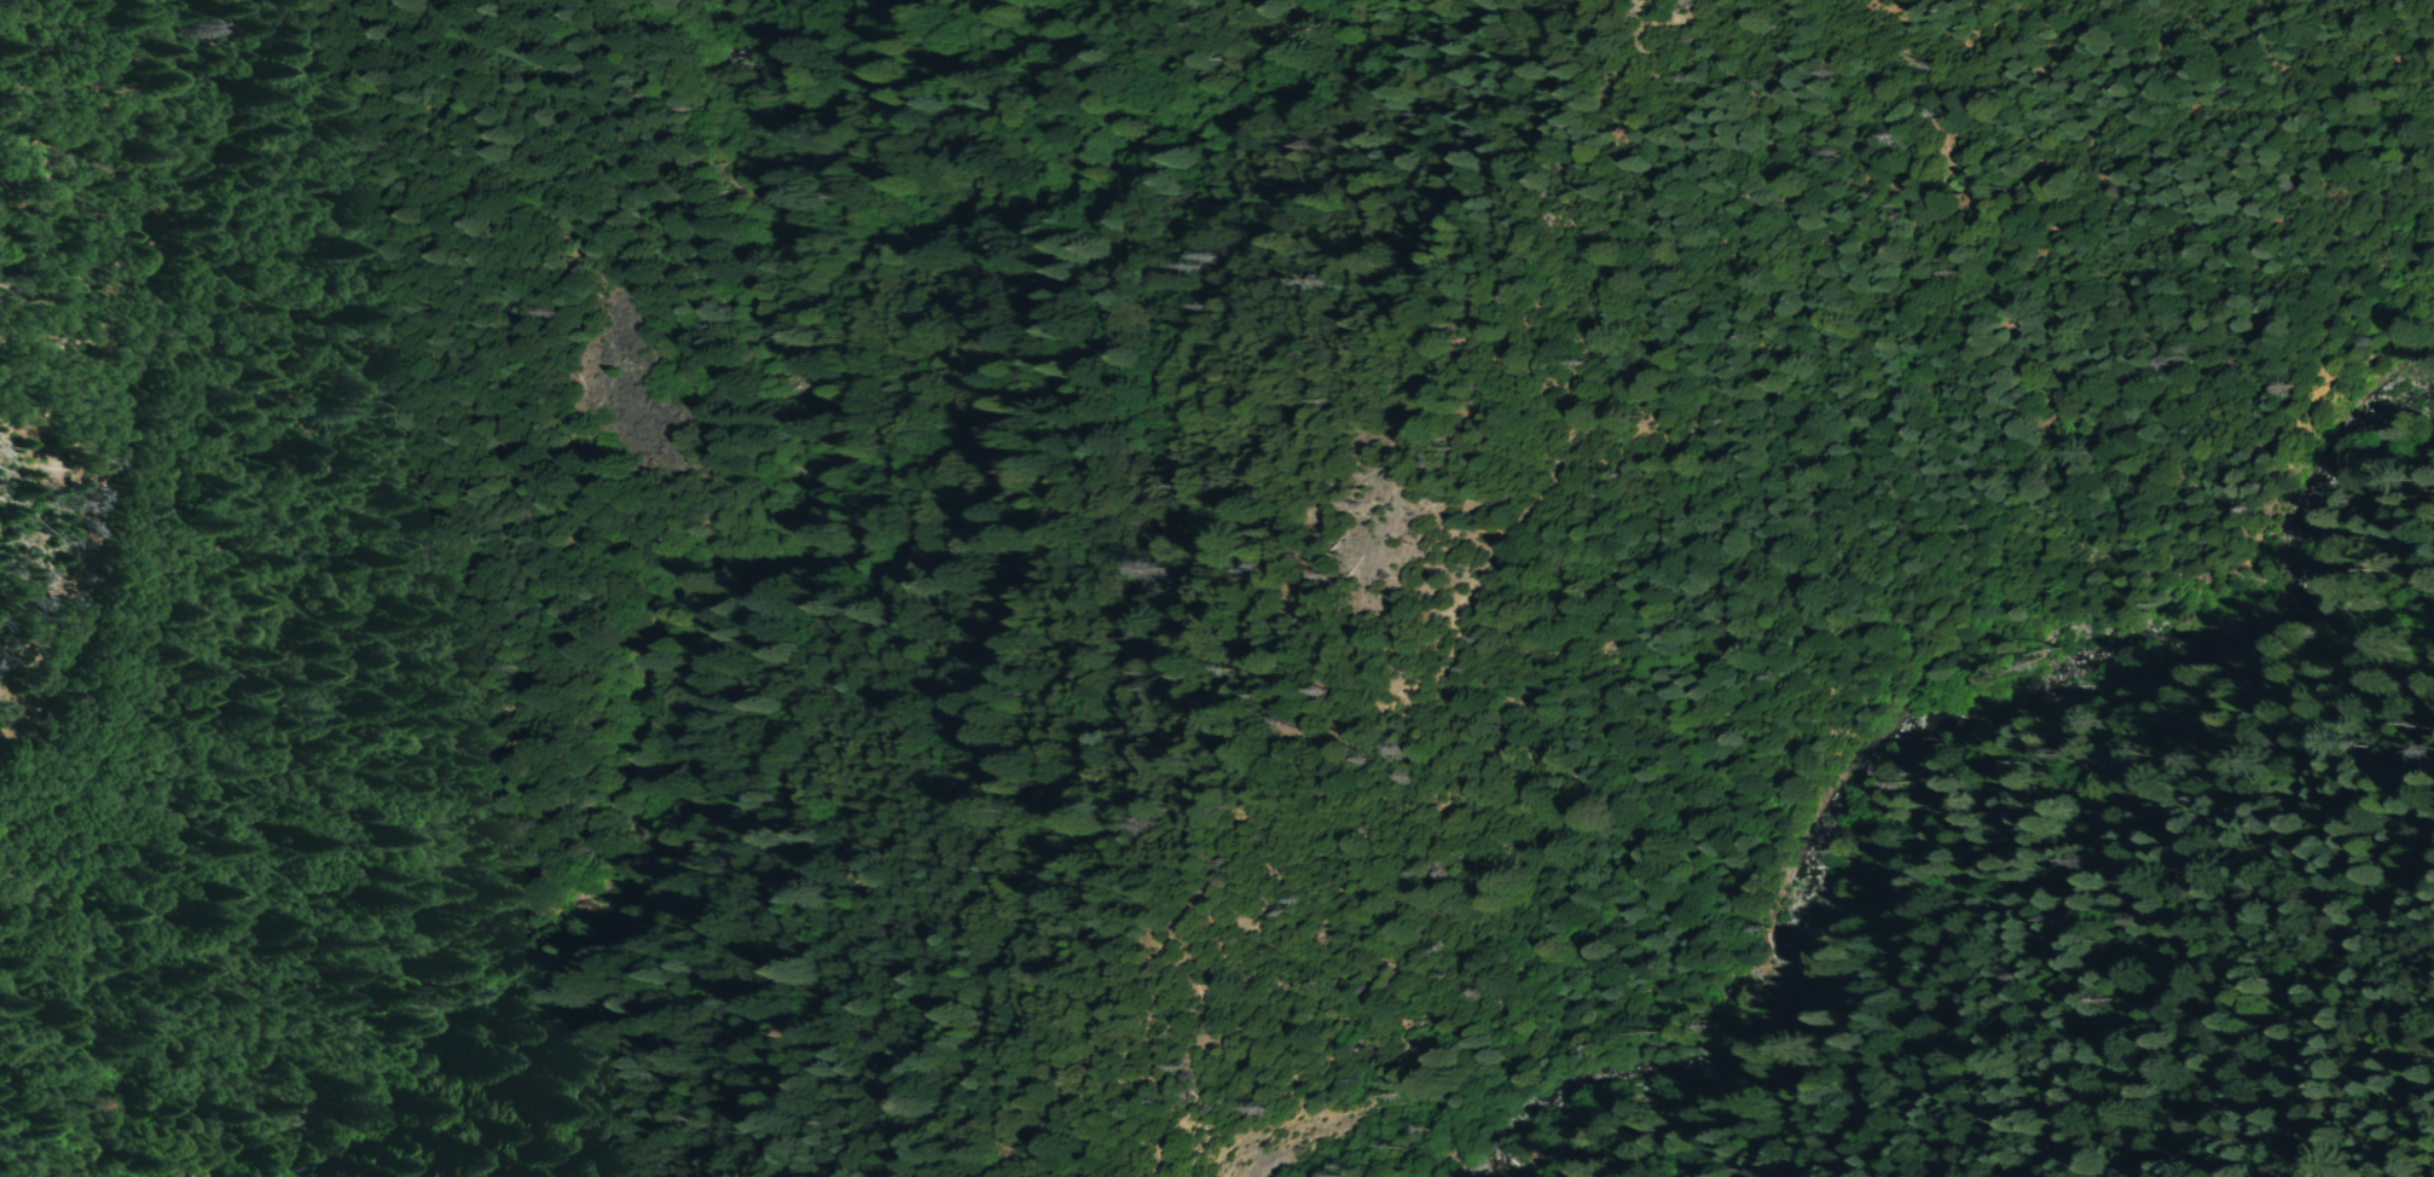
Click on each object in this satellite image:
road: (99, 327)

